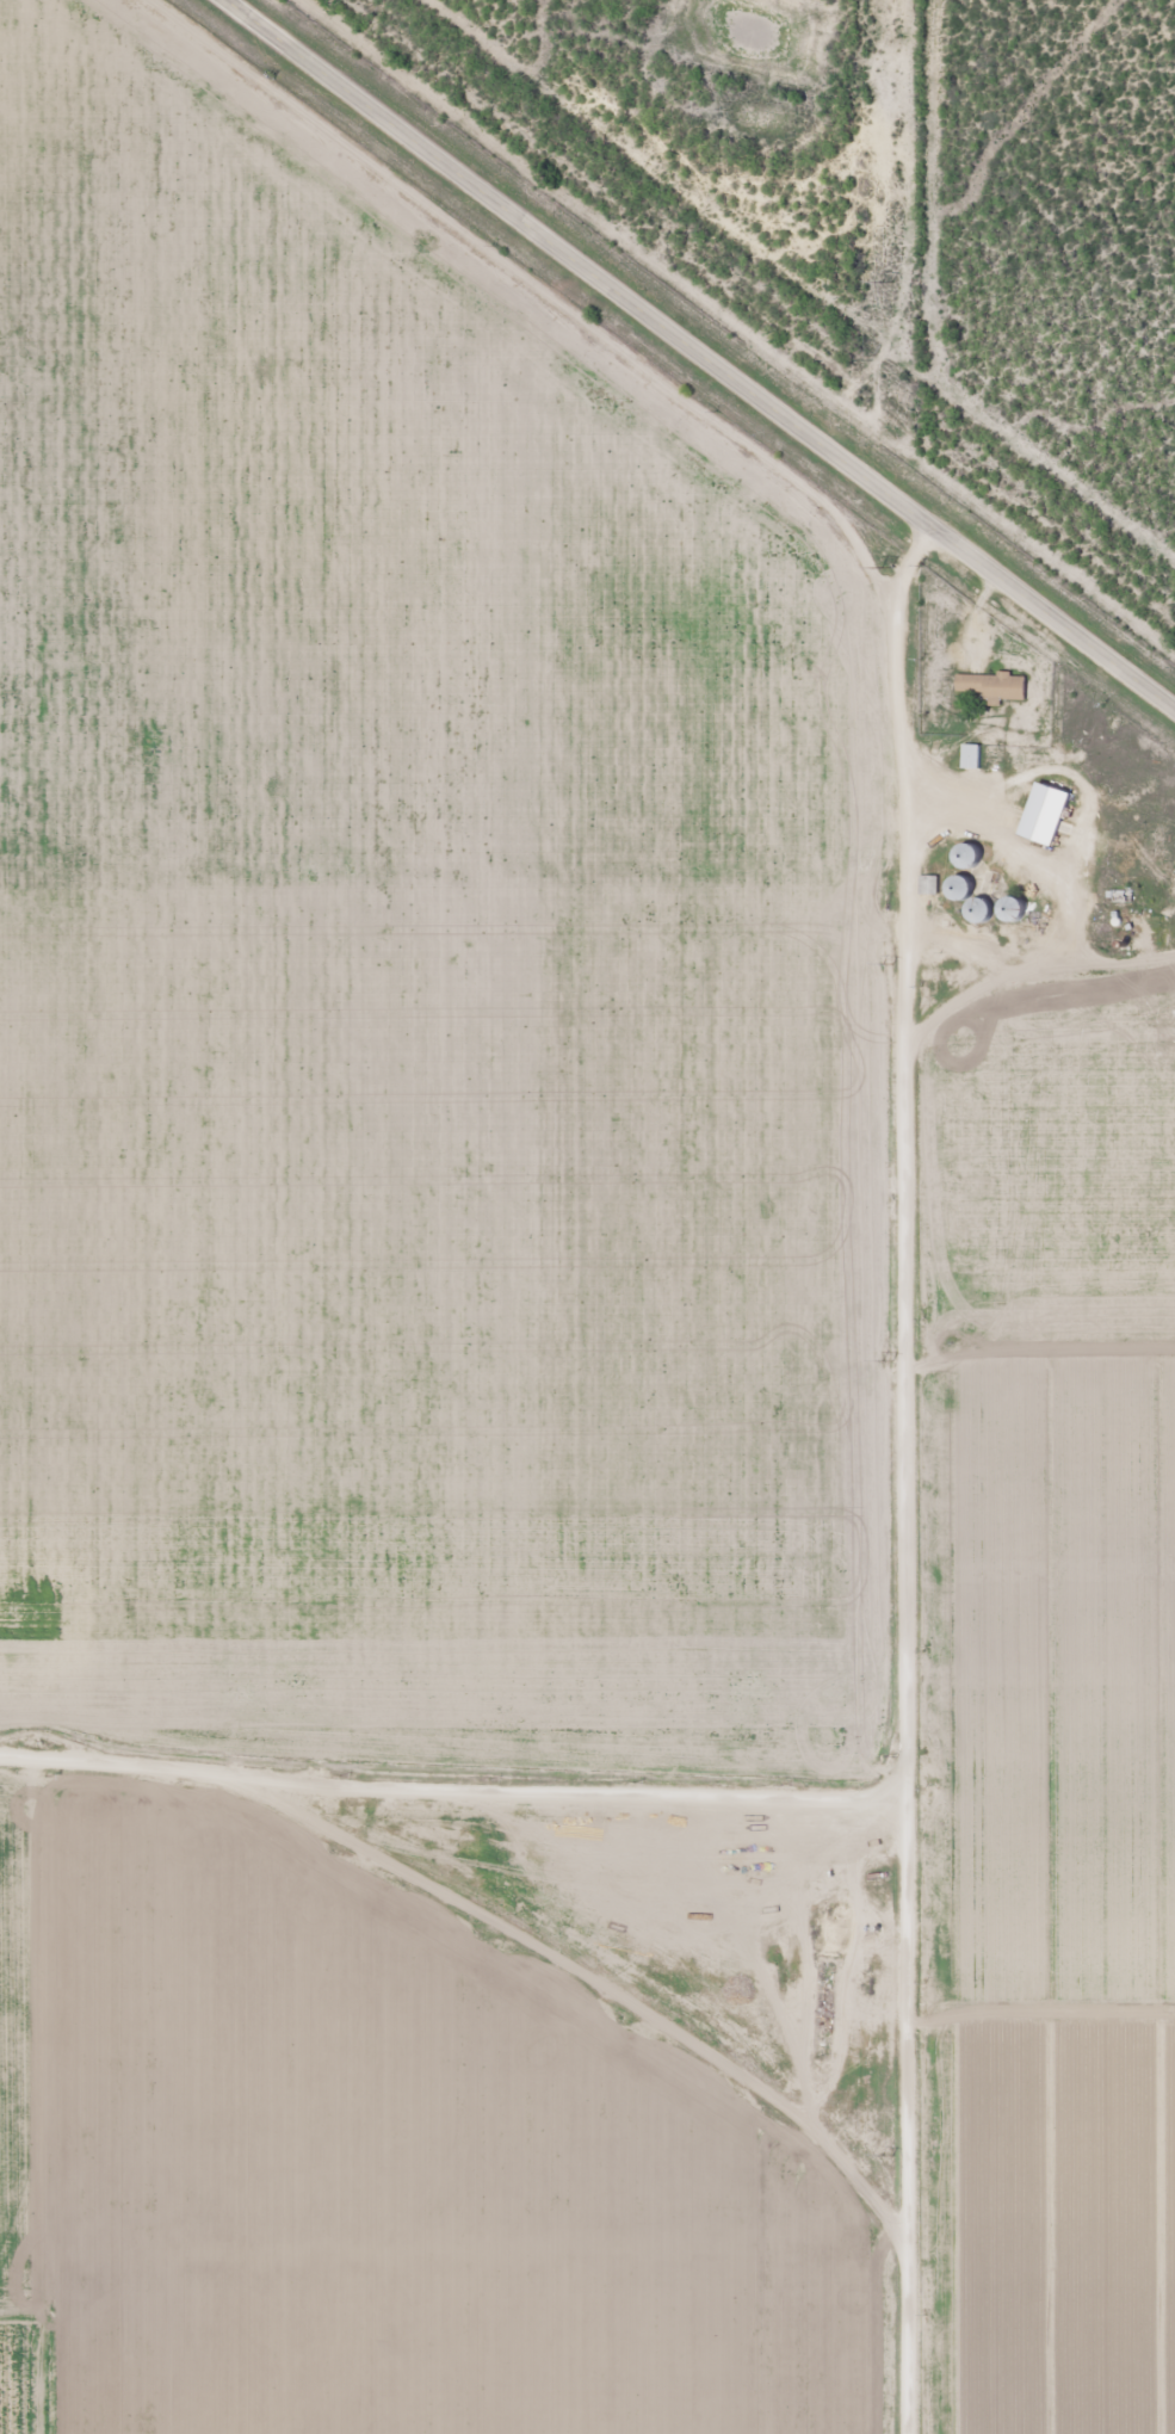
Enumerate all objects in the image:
power tower: (888, 282)
road: (706, 350)
power tower: (888, 568)
building: (973, 755)
power tower: (886, 963)
power tower: (891, 1360)
road: (926, 1468)
power tower: (891, 1756)
road: (456, 1768)
power tower: (890, 2155)

